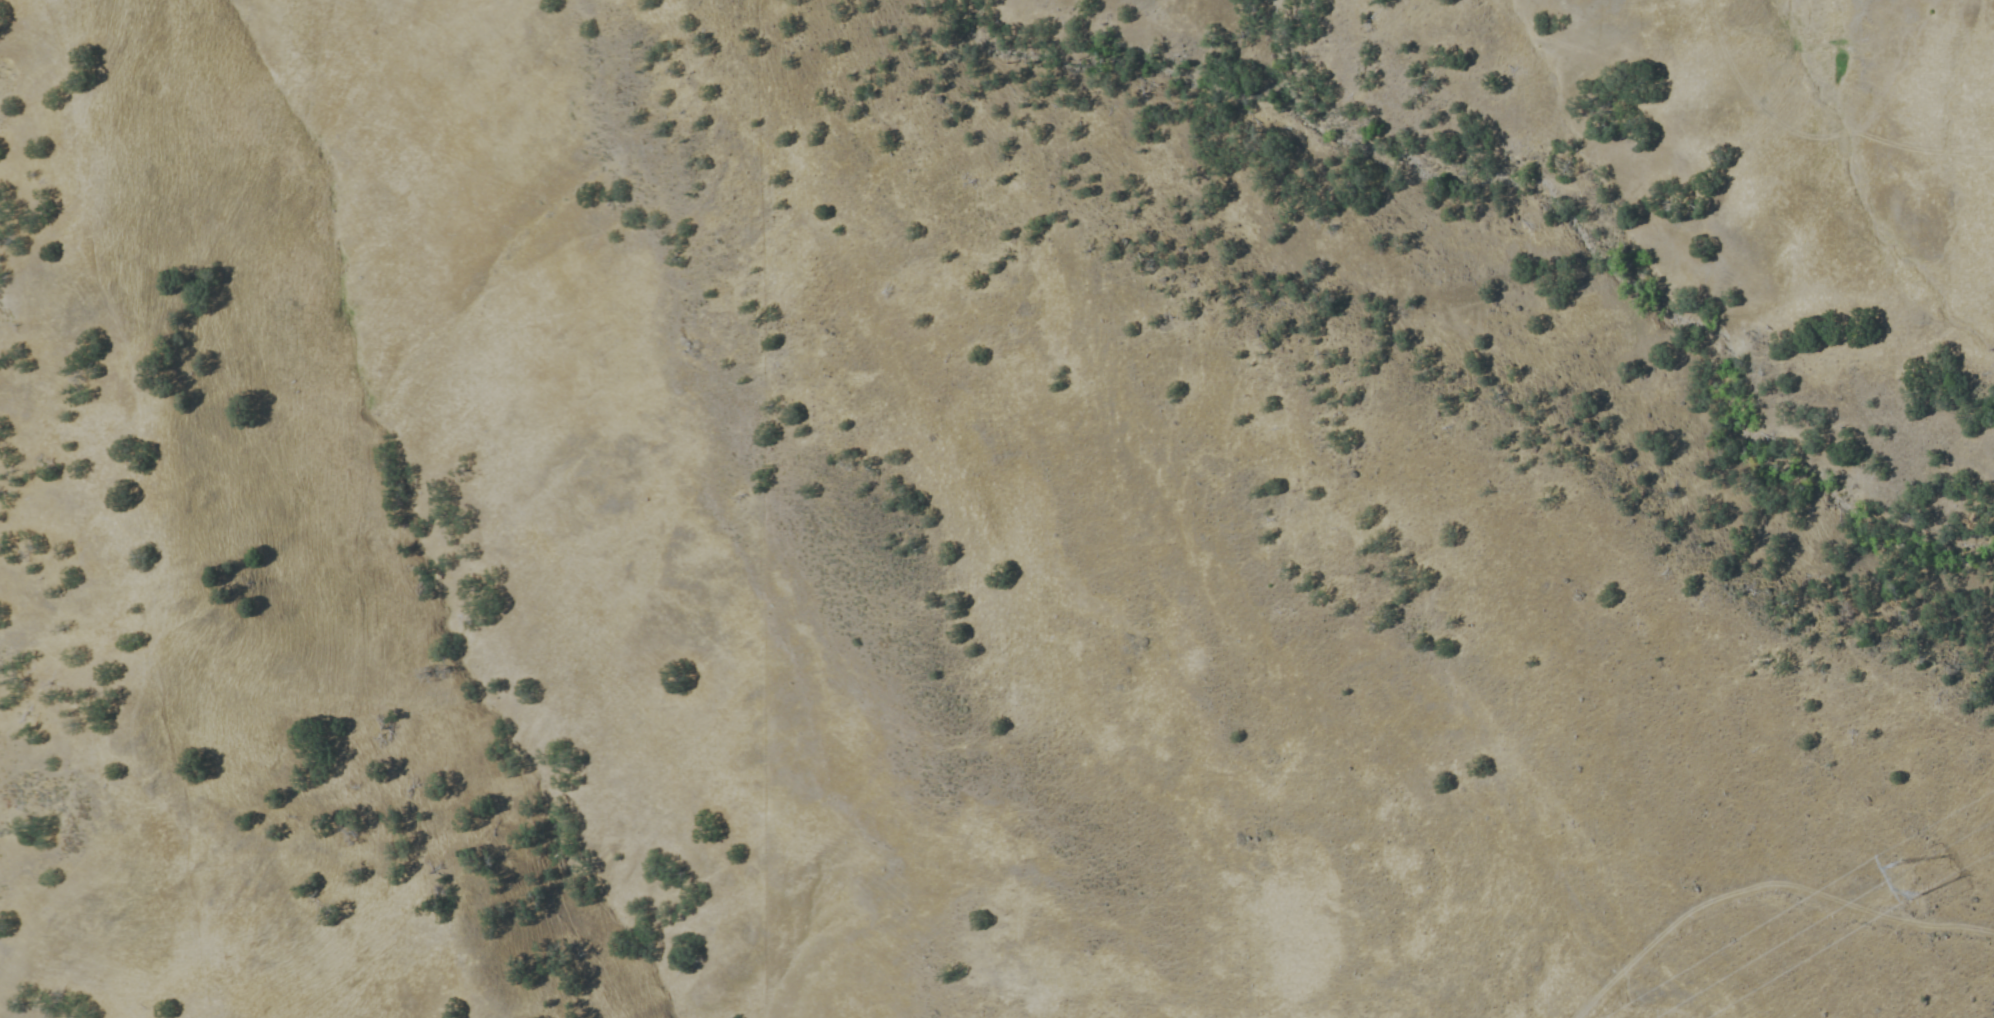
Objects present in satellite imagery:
power tower: (1907, 874)

